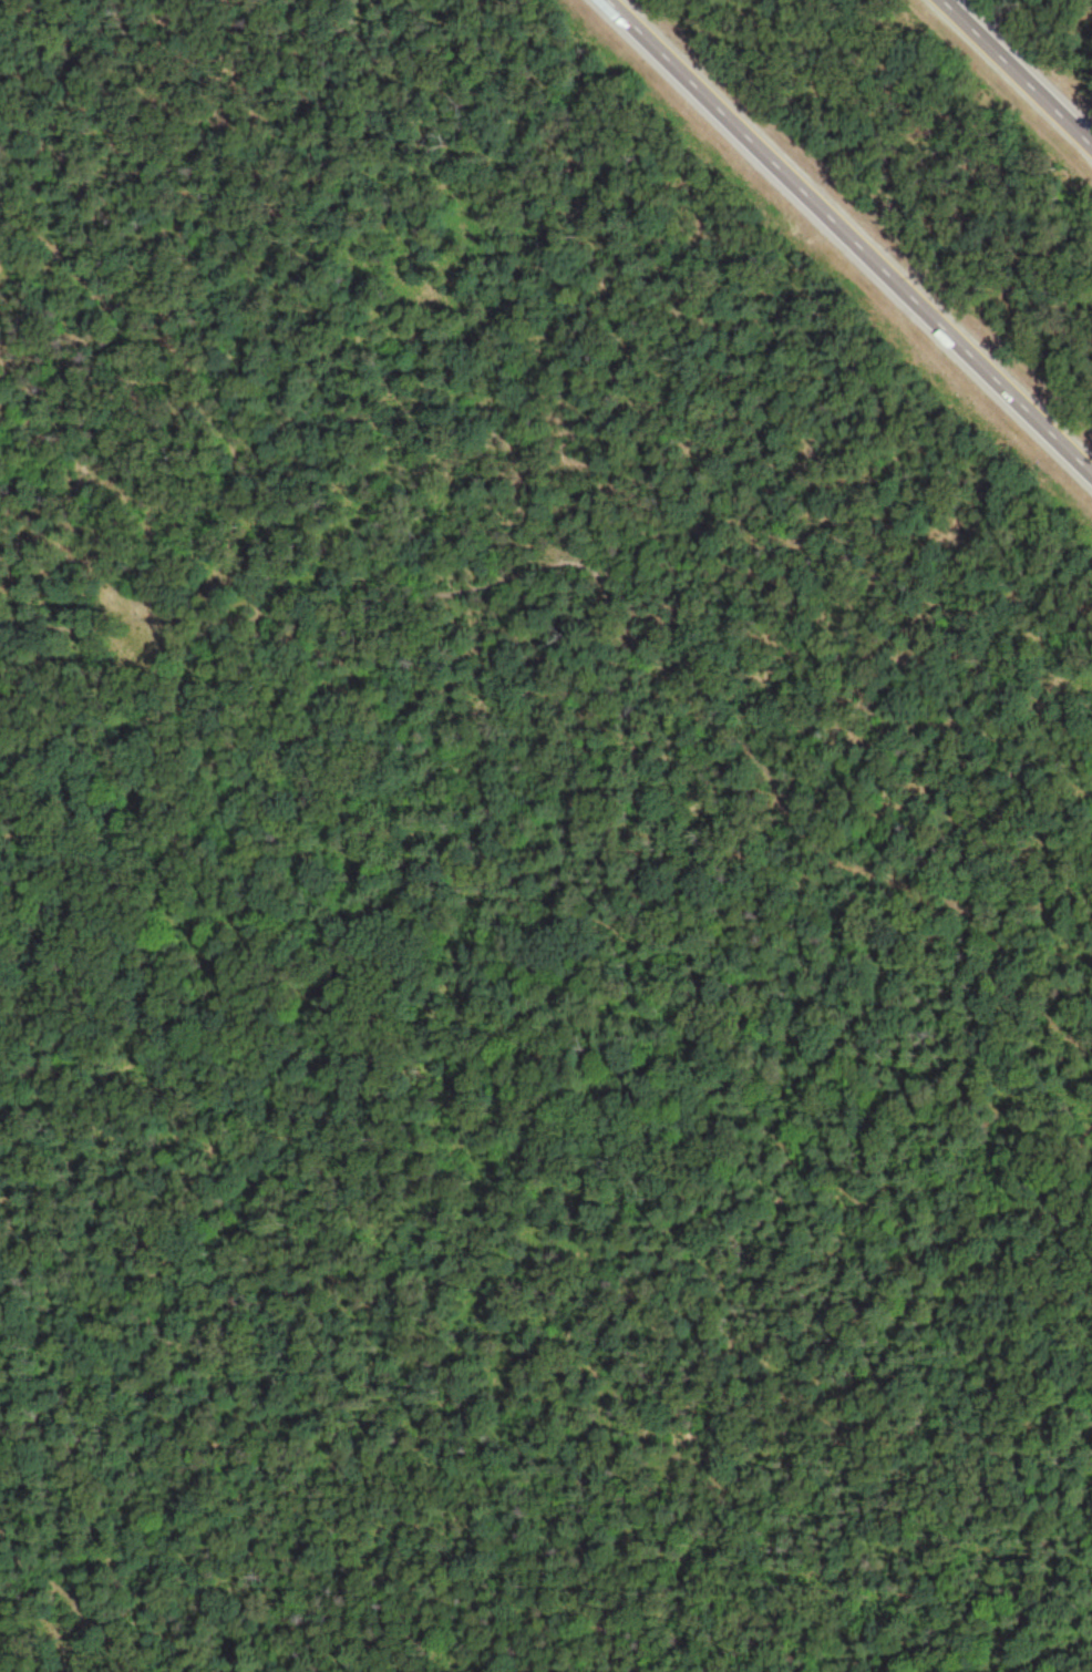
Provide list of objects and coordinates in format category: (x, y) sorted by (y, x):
road: (1023, 65)
road: (858, 228)
road: (827, 860)
road: (544, 960)
road: (546, 1526)

